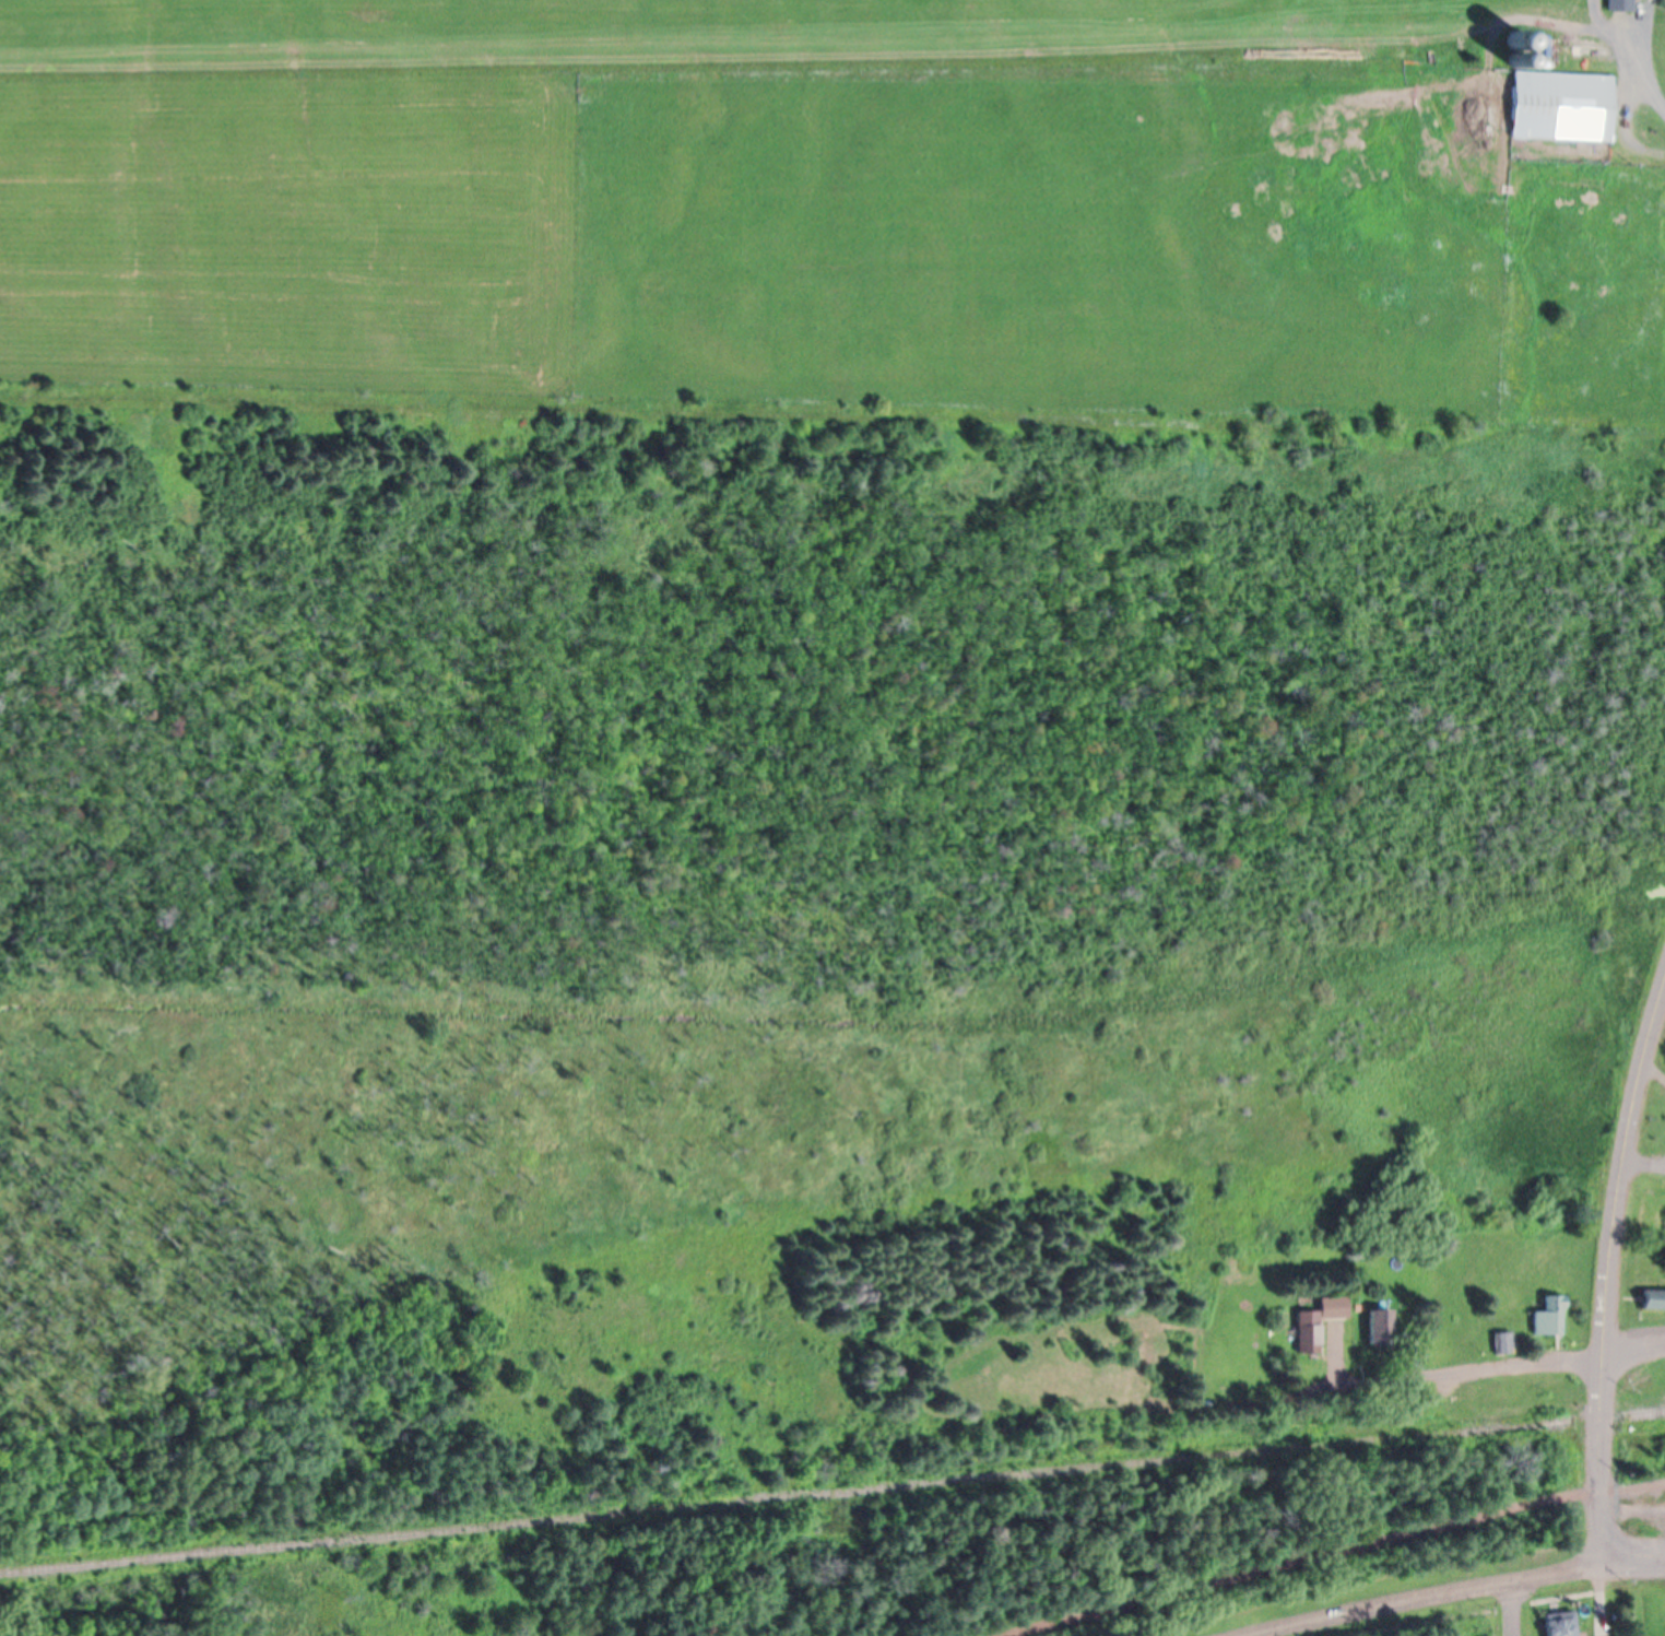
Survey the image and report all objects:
building: (1623, 7)
building: (1563, 109)
crop: (815, 208)
road: (1653, 1075)
road: (1643, 1168)
road: (1611, 1268)
building: (1655, 1302)
building: (1554, 1319)
building: (1320, 1326)
building: (1381, 1330)
building: (1505, 1345)
road: (1634, 1354)
road: (1469, 1374)
railway: (832, 1494)
road: (1324, 1554)
road: (1638, 1555)
road: (1434, 1597)
road: (1512, 1610)
building: (1558, 1634)

